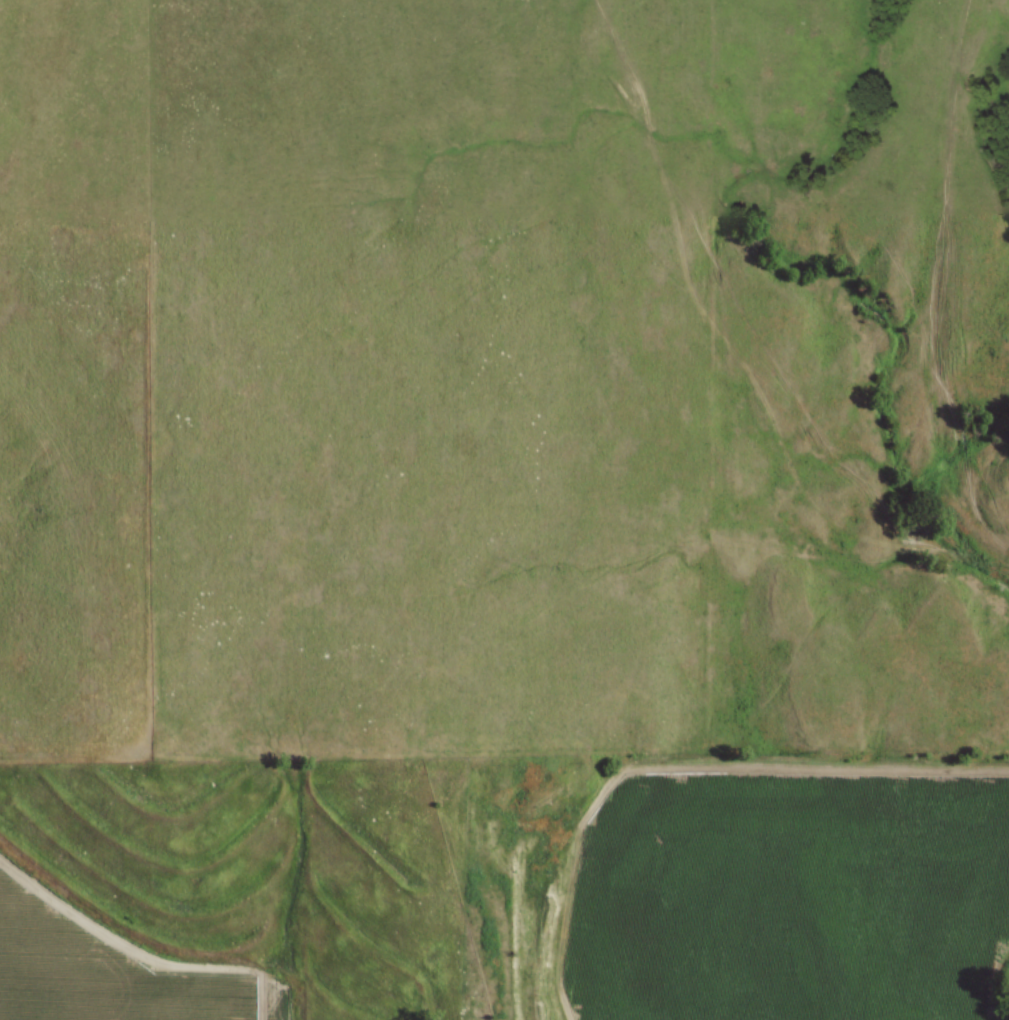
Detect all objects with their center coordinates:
crop: (108, 967)

